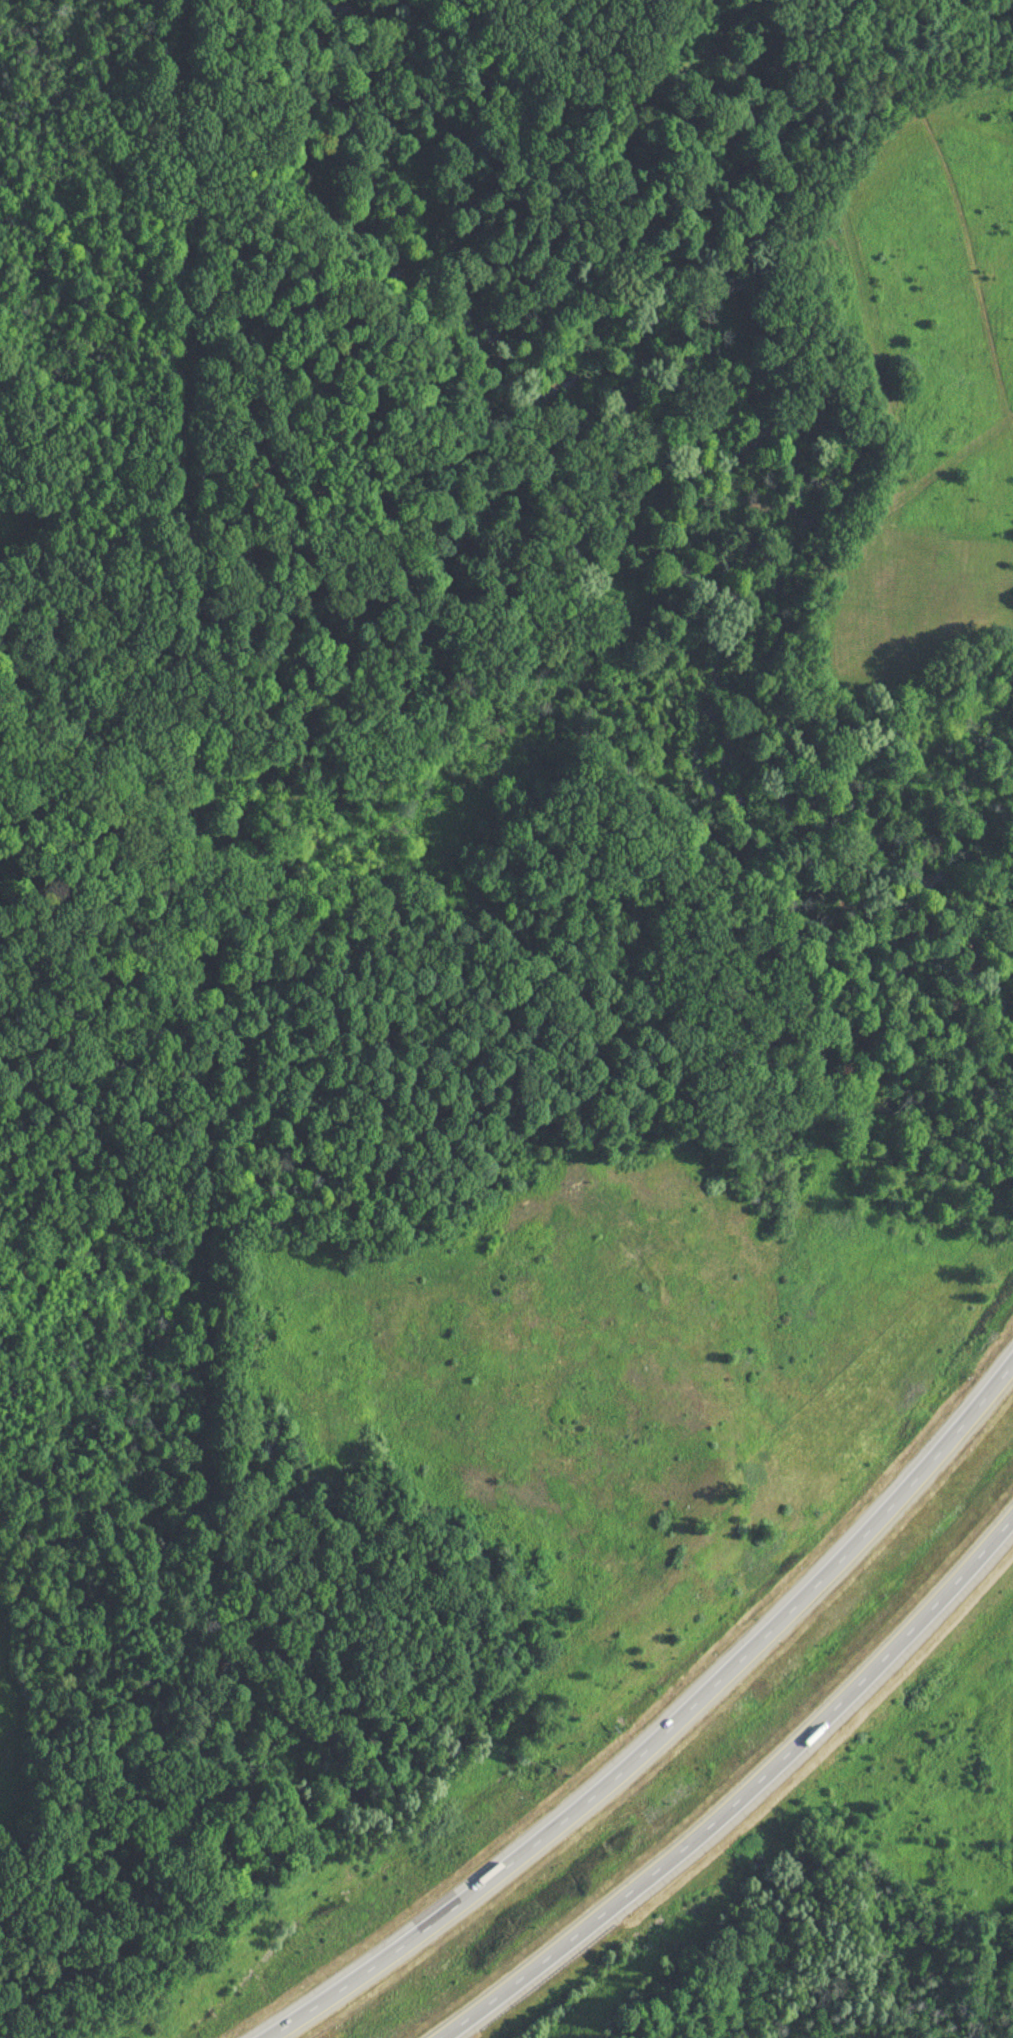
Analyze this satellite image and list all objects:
road: (666, 1730)
road: (745, 1793)

